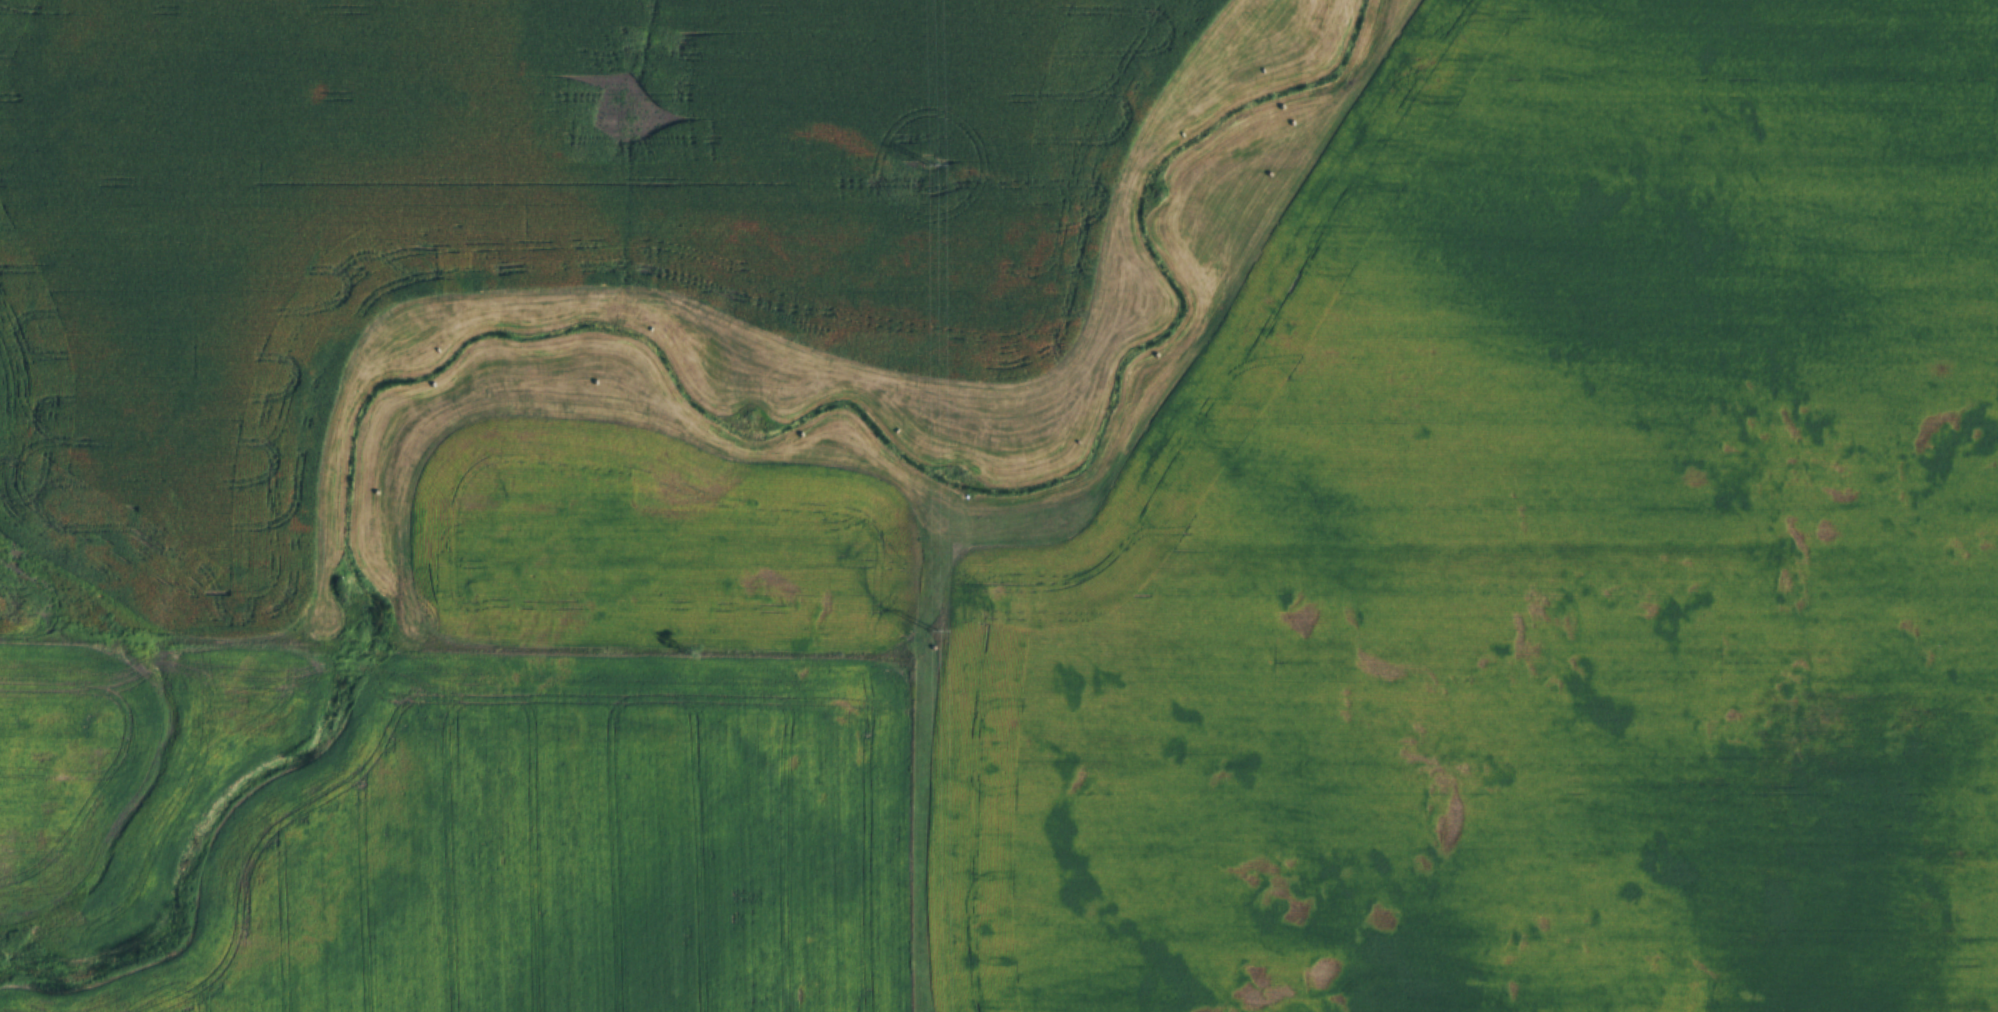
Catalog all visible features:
power tower: (929, 167)
power tower: (933, 633)

